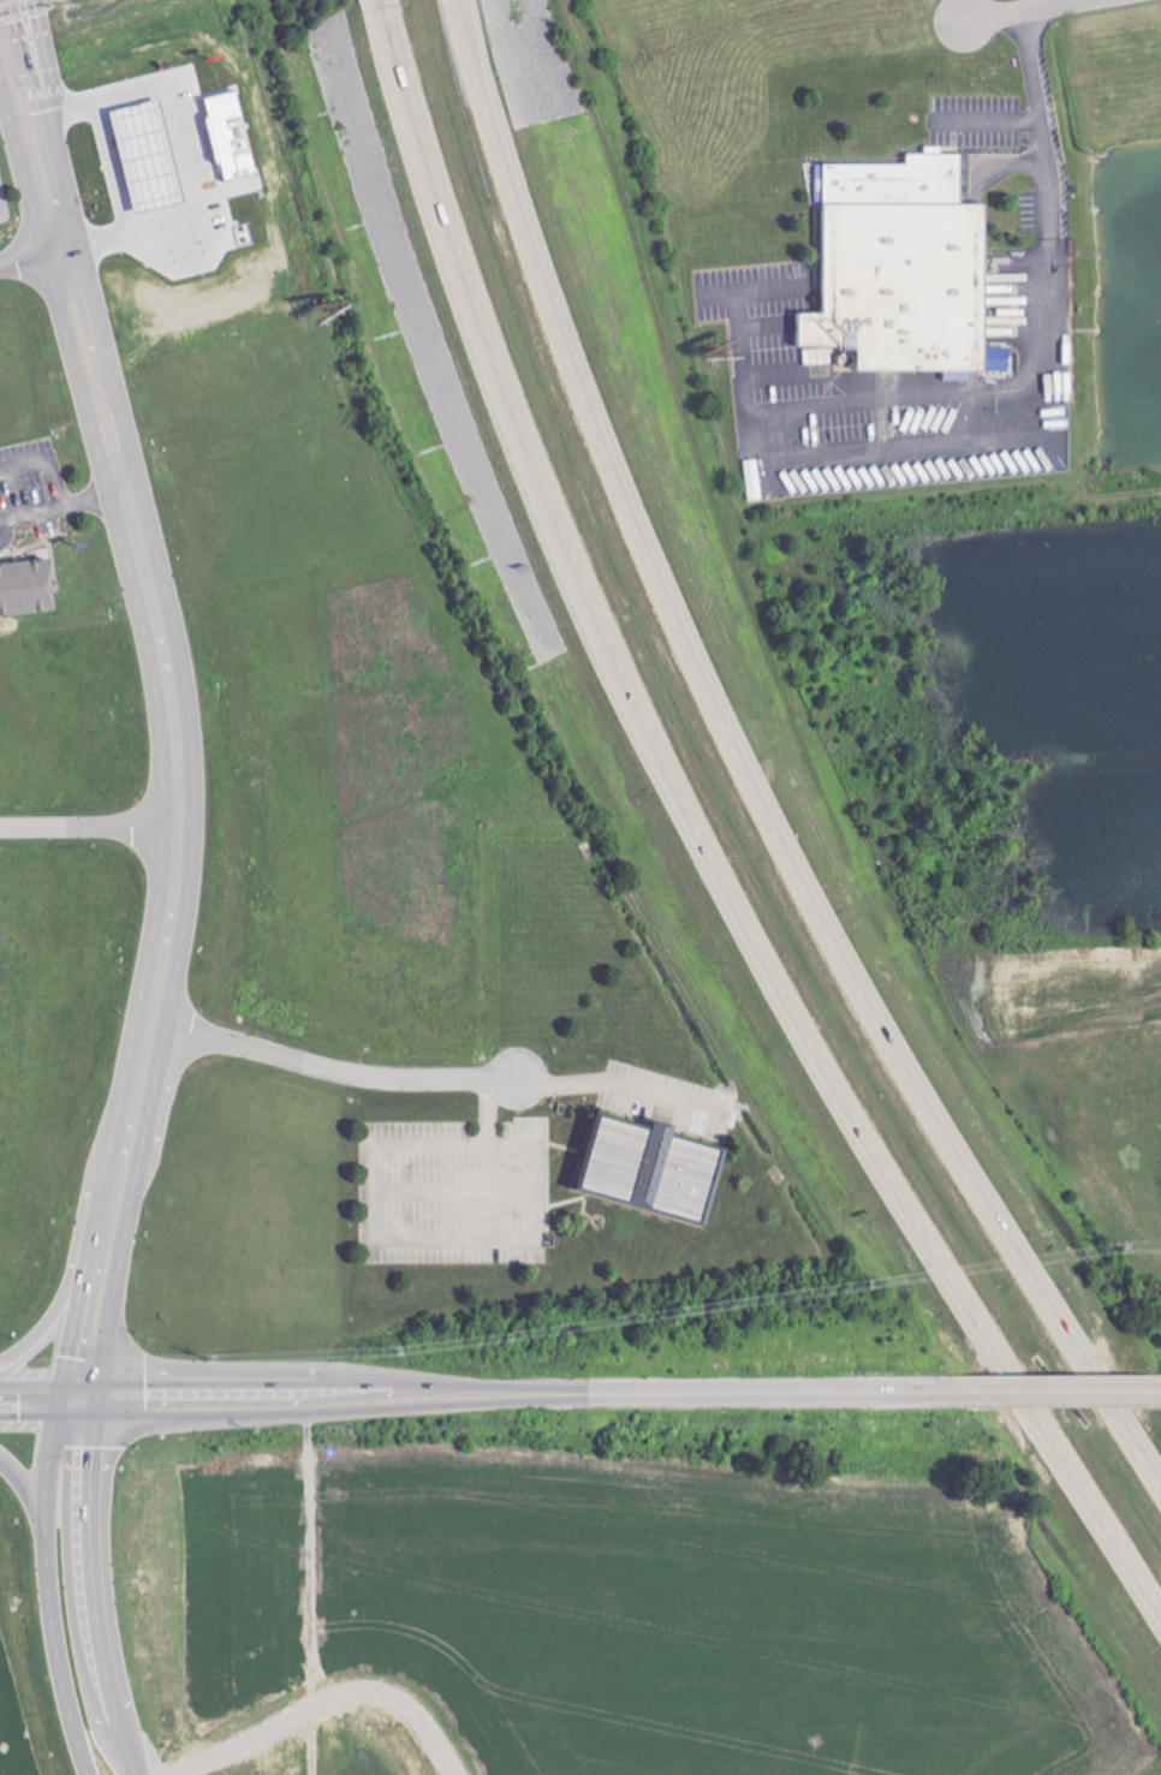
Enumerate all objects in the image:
railway: (12, 2)
road: (1025, 11)
traffic signals: (31, 18)
road: (4, 78)
road: (35, 79)
road: (20, 107)
road: (1043, 114)
road: (437, 192)
road: (52, 203)
road: (31, 256)
building: (906, 268)
road: (111, 367)
road: (78, 376)
road: (44, 463)
road: (93, 500)
road: (29, 511)
building: (25, 586)
road: (744, 770)
road: (89, 827)
road: (165, 948)
road: (796, 1013)
road: (332, 1068)
road: (618, 1084)
road: (482, 1156)
building: (653, 1172)
road: (1060, 1390)
road: (480, 1394)
traffic signals: (75, 1399)
road: (50, 1585)
road: (96, 1586)

